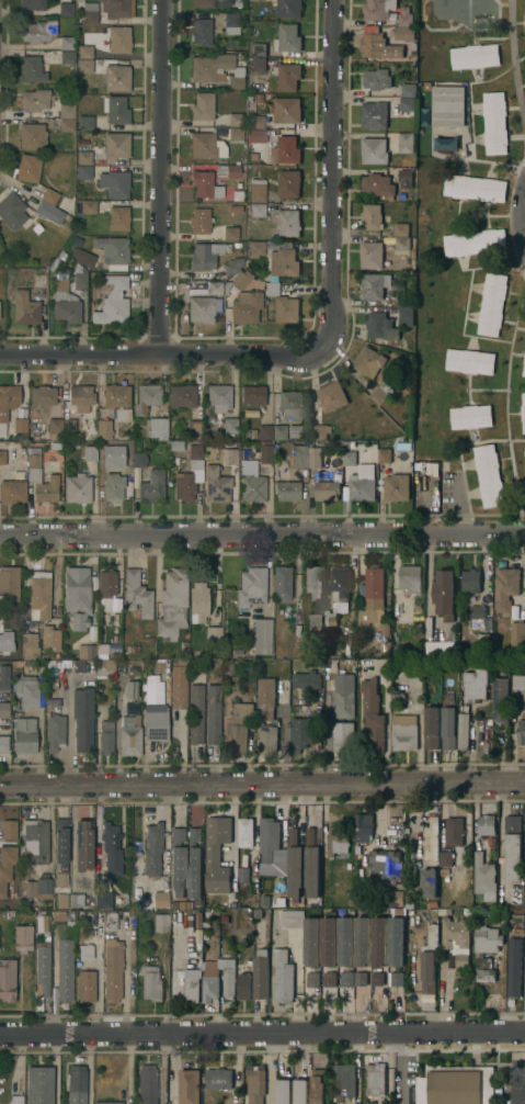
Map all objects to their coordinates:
building: (79, 1)
building: (210, 2)
building: (32, 3)
building: (65, 8)
building: (117, 8)
building: (287, 8)
building: (377, 9)
building: (88, 12)
building: (404, 16)
building: (524, 19)
building: (230, 23)
building: (38, 31)
building: (201, 31)
building: (403, 32)
building: (287, 37)
building: (118, 38)
building: (67, 42)
building: (370, 43)
building: (412, 48)
building: (259, 49)
building: (84, 50)
building: (473, 55)
building: (59, 56)
building: (258, 64)
building: (83, 65)
building: (209, 66)
road: (511, 66)
building: (32, 68)
building: (287, 76)
building: (116, 77)
building: (376, 78)
building: (235, 80)
building: (408, 89)
building: (34, 99)
building: (406, 104)
building: (202, 105)
building: (446, 106)
building: (115, 109)
building: (286, 109)
building: (66, 110)
building: (374, 114)
building: (235, 119)
building: (255, 121)
building: (84, 122)
building: (494, 122)
building: (66, 124)
building: (235, 134)
building: (32, 135)
building: (256, 135)
building: (406, 142)
building: (115, 145)
building: (206, 145)
building: (287, 148)
building: (374, 149)
building: (83, 157)
building: (27, 167)
road: (332, 169)
building: (229, 170)
building: (83, 171)
building: (406, 173)
road: (160, 178)
building: (287, 182)
building: (114, 183)
building: (377, 183)
building: (204, 184)
building: (473, 187)
building: (256, 190)
building: (237, 194)
building: (49, 195)
building: (88, 206)
building: (256, 210)
building: (11, 211)
building: (47, 212)
building: (370, 216)
building: (118, 217)
building: (199, 219)
building: (287, 222)
road: (520, 223)
building: (400, 228)
building: (230, 233)
building: (76, 240)
building: (473, 241)
building: (401, 243)
building: (256, 248)
building: (112, 249)
building: (206, 254)
building: (370, 254)
building: (82, 257)
building: (56, 260)
building: (283, 261)
building: (232, 264)
building: (241, 279)
building: (79, 280)
building: (374, 285)
building: (226, 286)
building: (214, 288)
building: (401, 296)
building: (112, 302)
building: (491, 303)
building: (282, 304)
building: (246, 306)
building: (24, 307)
building: (67, 308)
building: (201, 308)
building: (406, 312)
building: (380, 326)
road: (166, 356)
building: (469, 360)
building: (367, 361)
building: (523, 362)
building: (380, 392)
building: (81, 394)
building: (252, 394)
building: (42, 395)
building: (115, 395)
building: (182, 395)
building: (331, 395)
building: (218, 396)
building: (147, 397)
building: (8, 399)
building: (290, 404)
building: (523, 410)
building: (123, 414)
building: (470, 416)
building: (68, 420)
building: (20, 425)
building: (55, 425)
building: (229, 425)
building: (103, 427)
building: (157, 428)
building: (193, 429)
building: (296, 430)
building: (318, 430)
building: (264, 431)
building: (279, 431)
building: (252, 432)
building: (13, 444)
building: (524, 451)
building: (89, 452)
building: (103, 452)
building: (266, 453)
building: (230, 454)
building: (298, 454)
building: (384, 454)
building: (2, 457)
building: (194, 457)
building: (313, 457)
building: (349, 458)
building: (69, 461)
building: (488, 474)
building: (33, 477)
building: (147, 478)
building: (216, 484)
building: (184, 485)
building: (113, 486)
building: (396, 486)
building: (77, 487)
building: (361, 487)
building: (252, 488)
building: (327, 489)
building: (12, 491)
building: (286, 491)
road: (458, 504)
road: (262, 532)
building: (410, 578)
building: (470, 579)
building: (312, 581)
building: (10, 582)
building: (282, 582)
building: (340, 583)
building: (251, 586)
building: (105, 587)
building: (504, 587)
building: (372, 592)
building: (136, 593)
building: (443, 593)
building: (38, 595)
building: (77, 596)
building: (198, 601)
building: (172, 604)
building: (476, 617)
building: (331, 619)
building: (313, 621)
building: (416, 624)
building: (385, 627)
building: (213, 632)
building: (329, 632)
building: (516, 634)
building: (262, 635)
building: (49, 637)
building: (148, 640)
building: (482, 643)
building: (183, 645)
building: (28, 646)
building: (134, 647)
building: (442, 649)
building: (101, 650)
building: (85, 651)
building: (232, 664)
building: (78, 666)
building: (104, 668)
building: (3, 677)
building: (305, 679)
building: (516, 680)
building: (179, 684)
building: (475, 684)
building: (130, 688)
building: (27, 689)
building: (344, 695)
building: (265, 698)
building: (397, 698)
building: (500, 699)
building: (50, 700)
building: (3, 709)
building: (195, 713)
building: (212, 713)
building: (373, 714)
building: (82, 718)
building: (155, 721)
building: (238, 726)
building: (431, 726)
building: (448, 728)
building: (463, 730)
building: (55, 731)
building: (521, 731)
building: (403, 732)
building: (106, 733)
building: (300, 733)
building: (24, 735)
building: (129, 735)
building: (343, 735)
building: (267, 740)
building: (3, 743)
road: (262, 784)
building: (486, 824)
building: (363, 826)
building: (9, 829)
building: (524, 830)
building: (244, 831)
building: (453, 831)
building: (267, 837)
building: (430, 838)
building: (34, 842)
building: (335, 842)
building: (83, 844)
building: (512, 847)
building: (152, 848)
building: (111, 849)
building: (60, 850)
building: (216, 854)
building: (445, 858)
building: (281, 861)
building: (176, 864)
building: (193, 864)
building: (5, 865)
building: (294, 865)
building: (311, 865)
building: (384, 865)
building: (411, 871)
building: (444, 871)
building: (242, 874)
building: (482, 877)
building: (429, 880)
building: (43, 886)
building: (395, 898)
building: (103, 899)
building: (160, 899)
building: (61, 900)
building: (76, 900)
building: (524, 901)
building: (432, 903)
building: (466, 911)
building: (58, 917)
building: (224, 917)
building: (290, 917)
building: (109, 920)
building: (41, 922)
building: (160, 922)
building: (455, 937)
building: (22, 938)
building: (344, 940)
building: (361, 940)
building: (311, 942)
building: (328, 942)
building: (378, 942)
building: (396, 943)
building: (484, 943)
building: (85, 950)
building: (429, 960)
building: (513, 967)
building: (42, 968)
building: (112, 969)
building: (64, 970)
building: (227, 975)
building: (486, 975)
building: (282, 976)
building: (259, 977)
building: (329, 978)
building: (7, 979)
building: (312, 979)
building: (346, 979)
building: (359, 979)
building: (376, 979)
building: (396, 979)
building: (209, 981)
building: (150, 982)
building: (243, 984)
building: (85, 987)
building: (191, 988)
road: (262, 1032)
road: (267, 1067)
park: (460, 1068)
building: (218, 1078)
building: (375, 1079)
building: (147, 1080)
building: (343, 1080)
building: (254, 1083)
building: (38, 1084)
building: (76, 1084)
building: (456, 1084)
building: (317, 1085)
building: (189, 1086)
building: (283, 1091)
building: (300, 1091)
building: (205, 1096)
building: (15, 1100)
building: (107, 1102)

